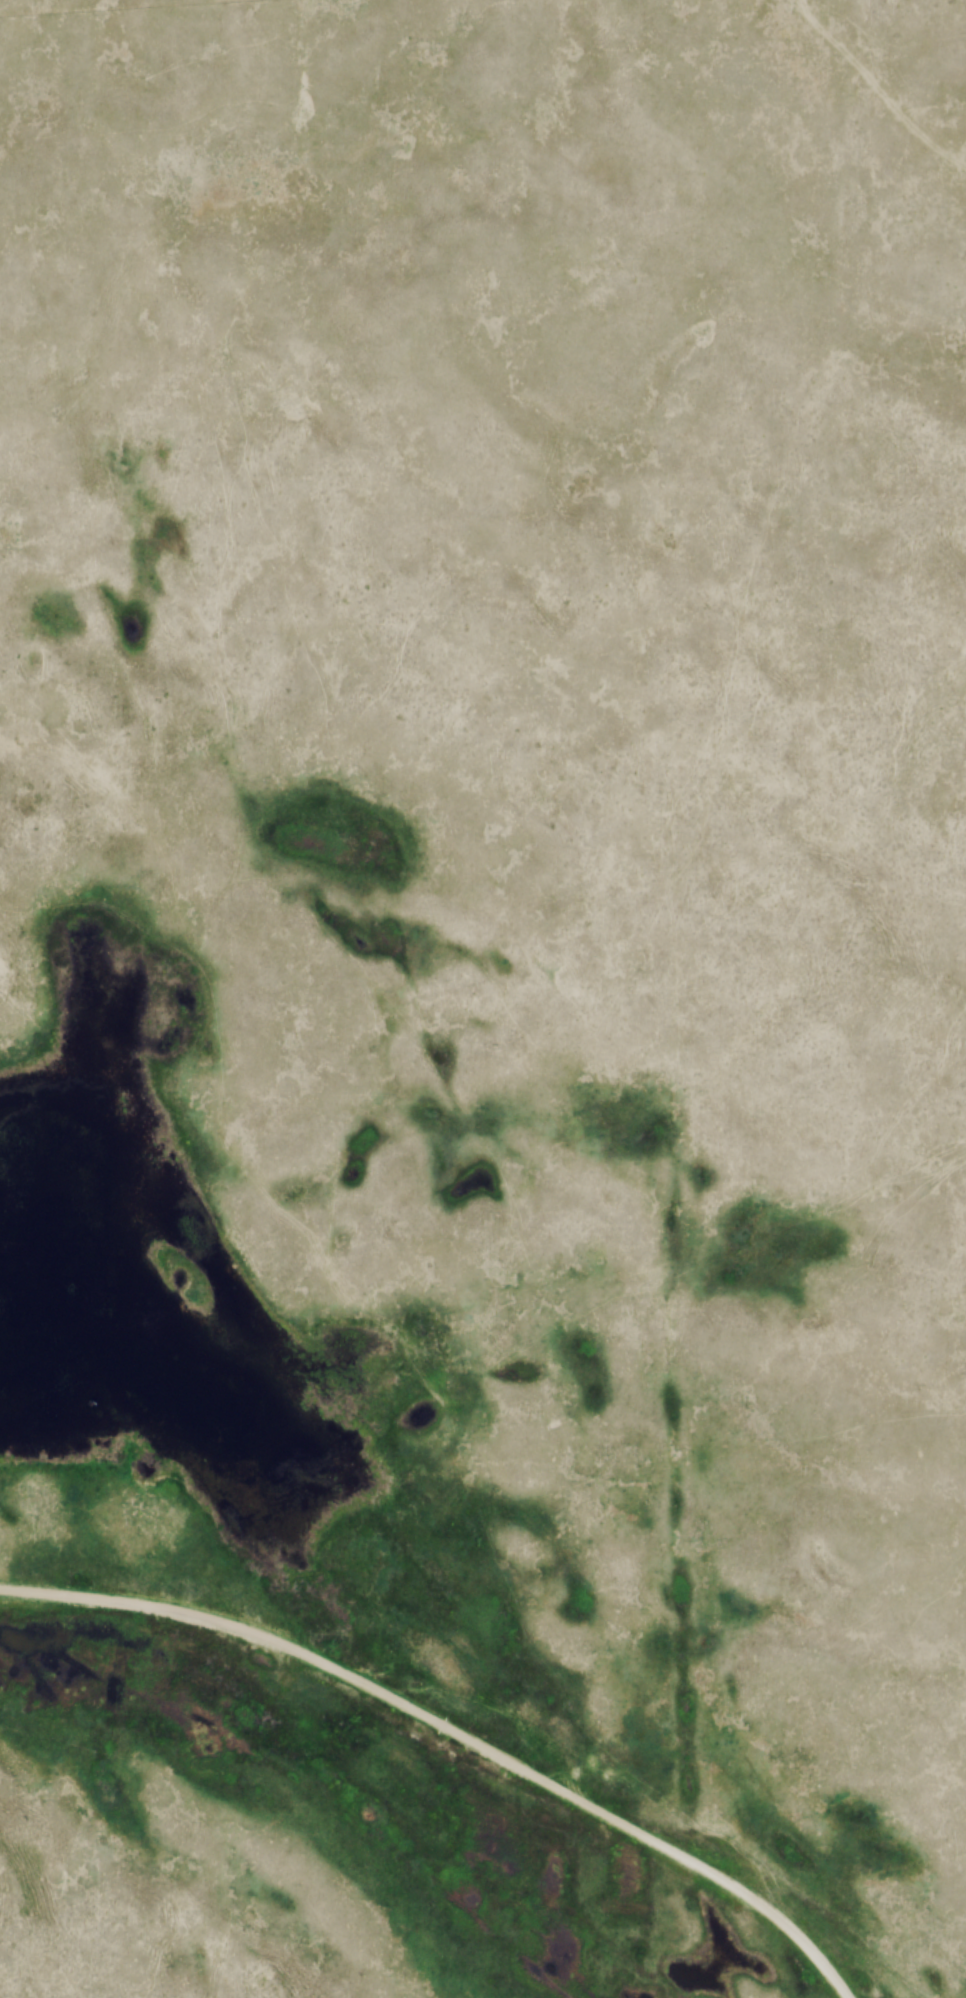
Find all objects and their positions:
road: (457, 1722)

